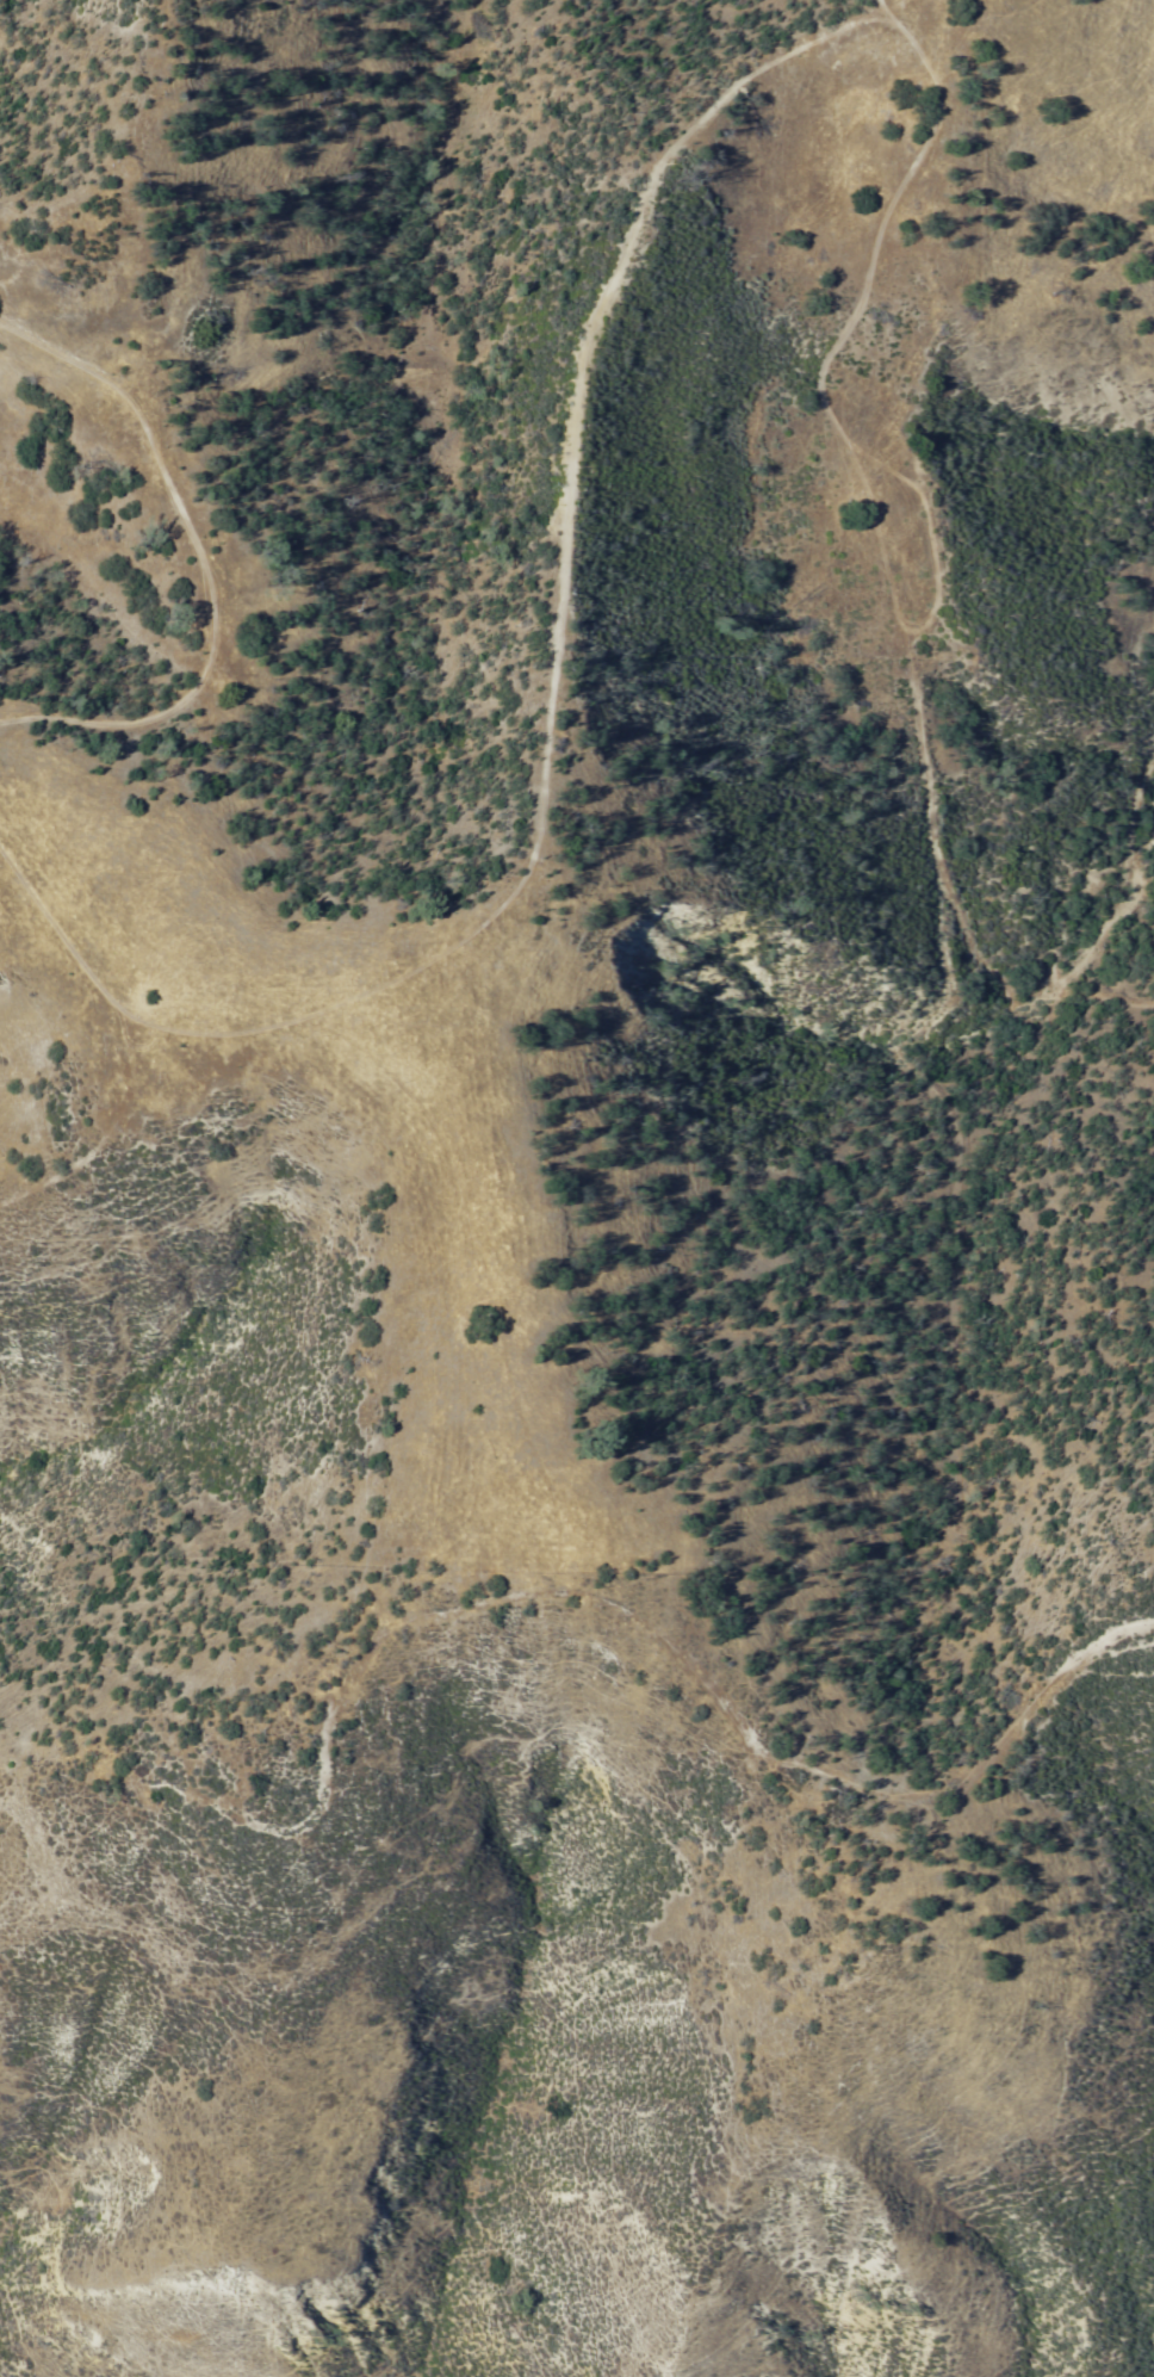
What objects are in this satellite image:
road: (1116, 1770)

